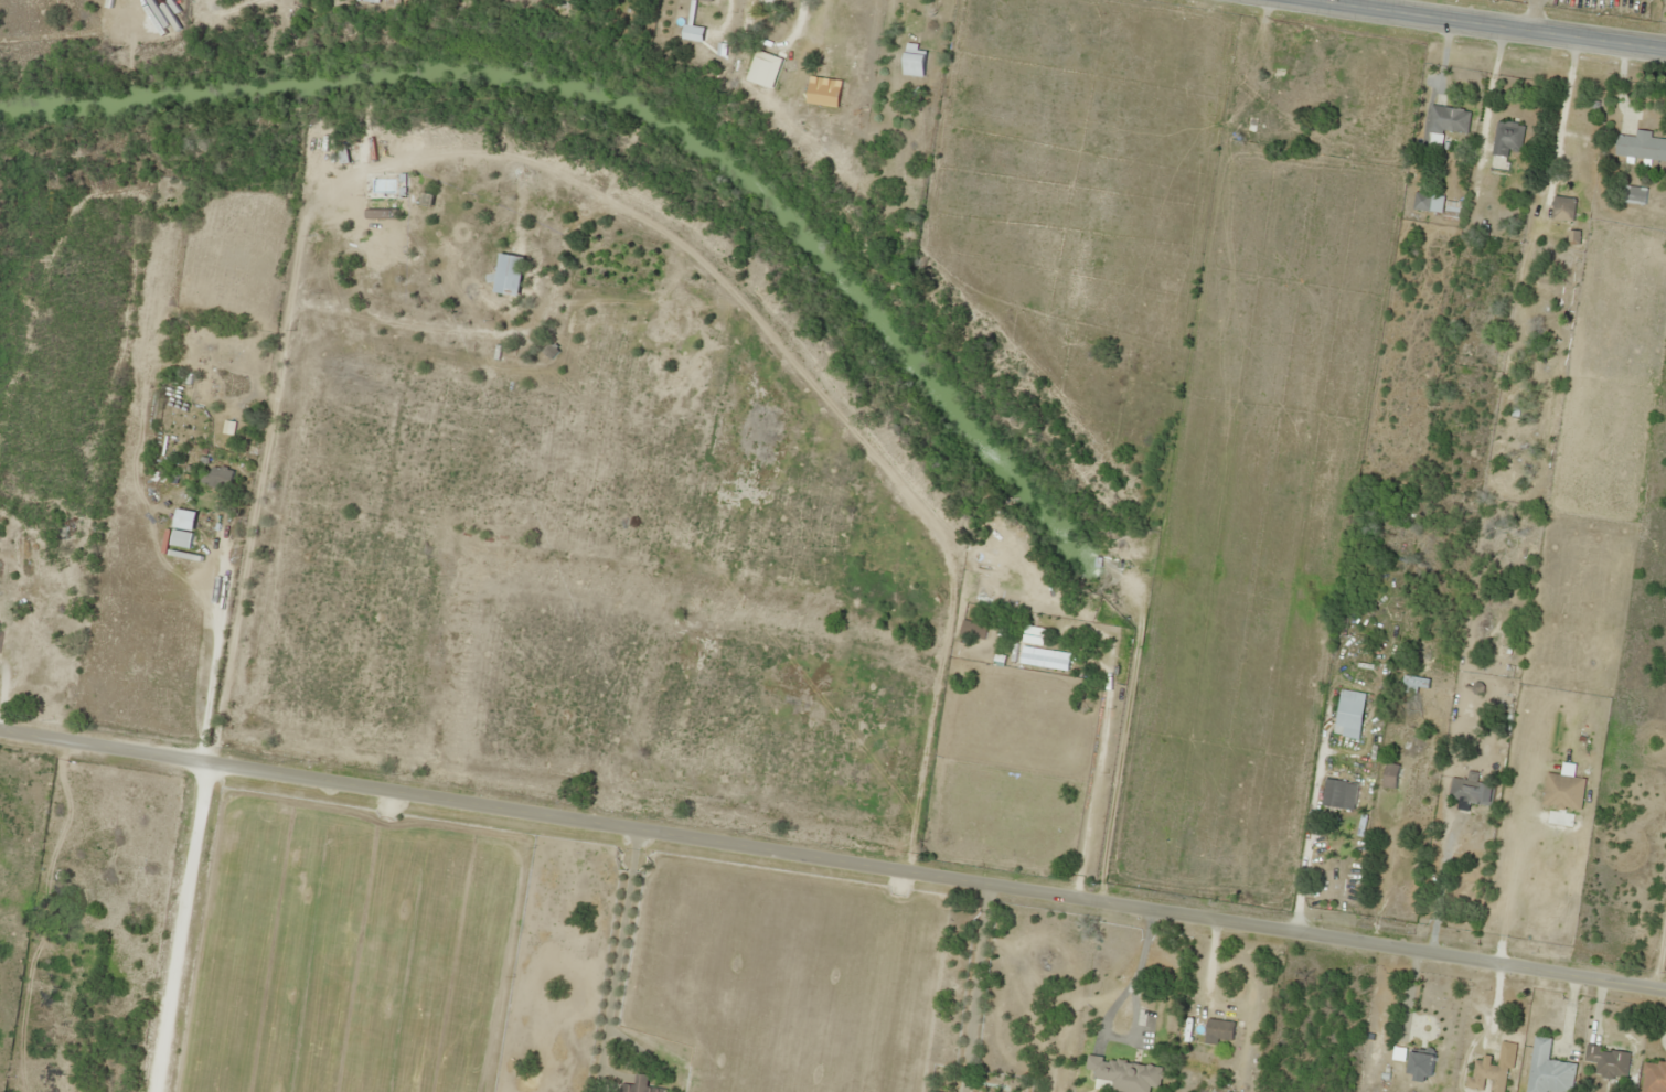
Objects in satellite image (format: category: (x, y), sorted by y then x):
building: (370, 0)
building: (708, 0)
building: (765, 3)
road: (1507, 23)
building: (701, 54)
building: (912, 64)
building: (1272, 110)
building: (1454, 119)
building: (1506, 138)
building: (1640, 146)
building: (352, 153)
building: (1420, 201)
building: (1561, 205)
building: (508, 275)
building: (217, 477)
building: (181, 538)
building: (972, 629)
building: (1032, 635)
building: (1413, 682)
building: (1347, 713)
building: (1389, 775)
building: (1464, 788)
building: (1337, 794)
road: (833, 859)
road: (189, 939)
building: (1131, 1013)
building: (1218, 1029)
building: (1606, 1061)
building: (1419, 1064)
building: (1547, 1069)
building: (1653, 1075)
building: (1106, 1078)
building: (639, 1085)
building: (928, 1091)

